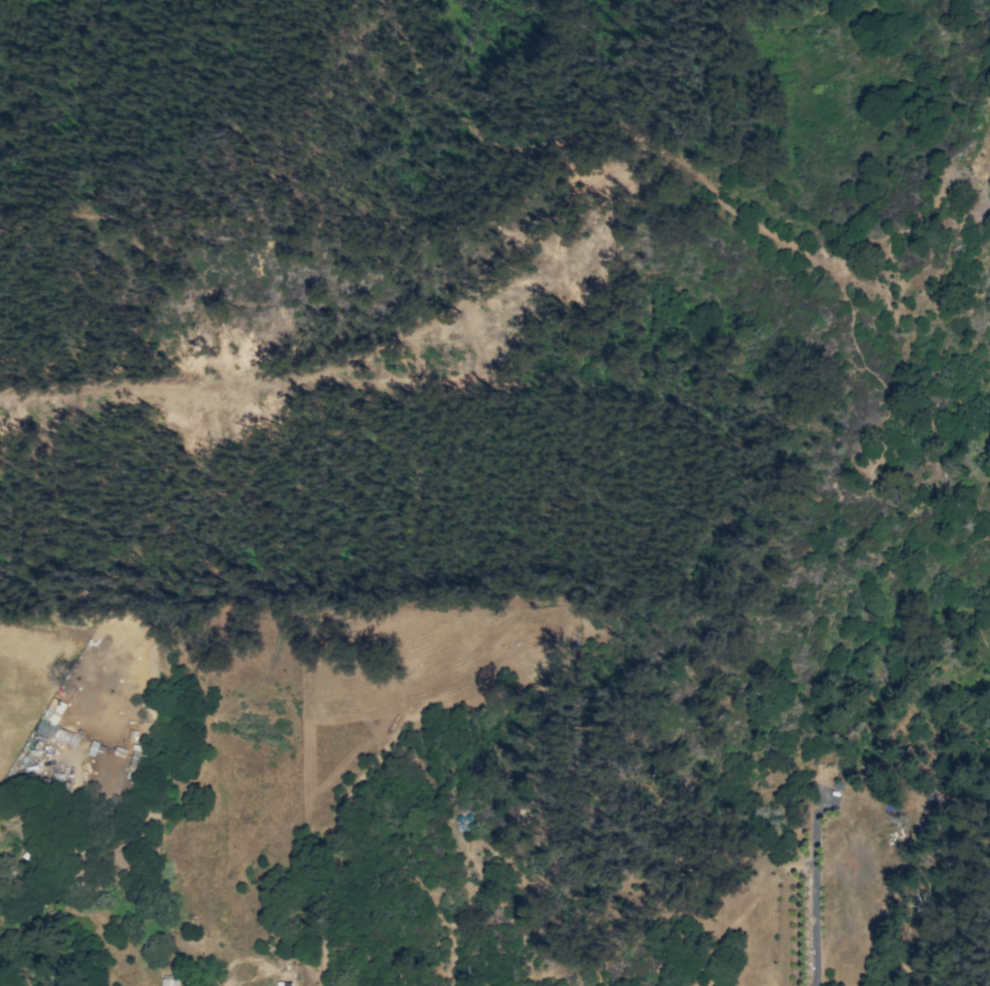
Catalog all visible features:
building: (55, 710)
building: (58, 733)
road: (813, 893)
building: (168, 982)
building: (284, 983)

